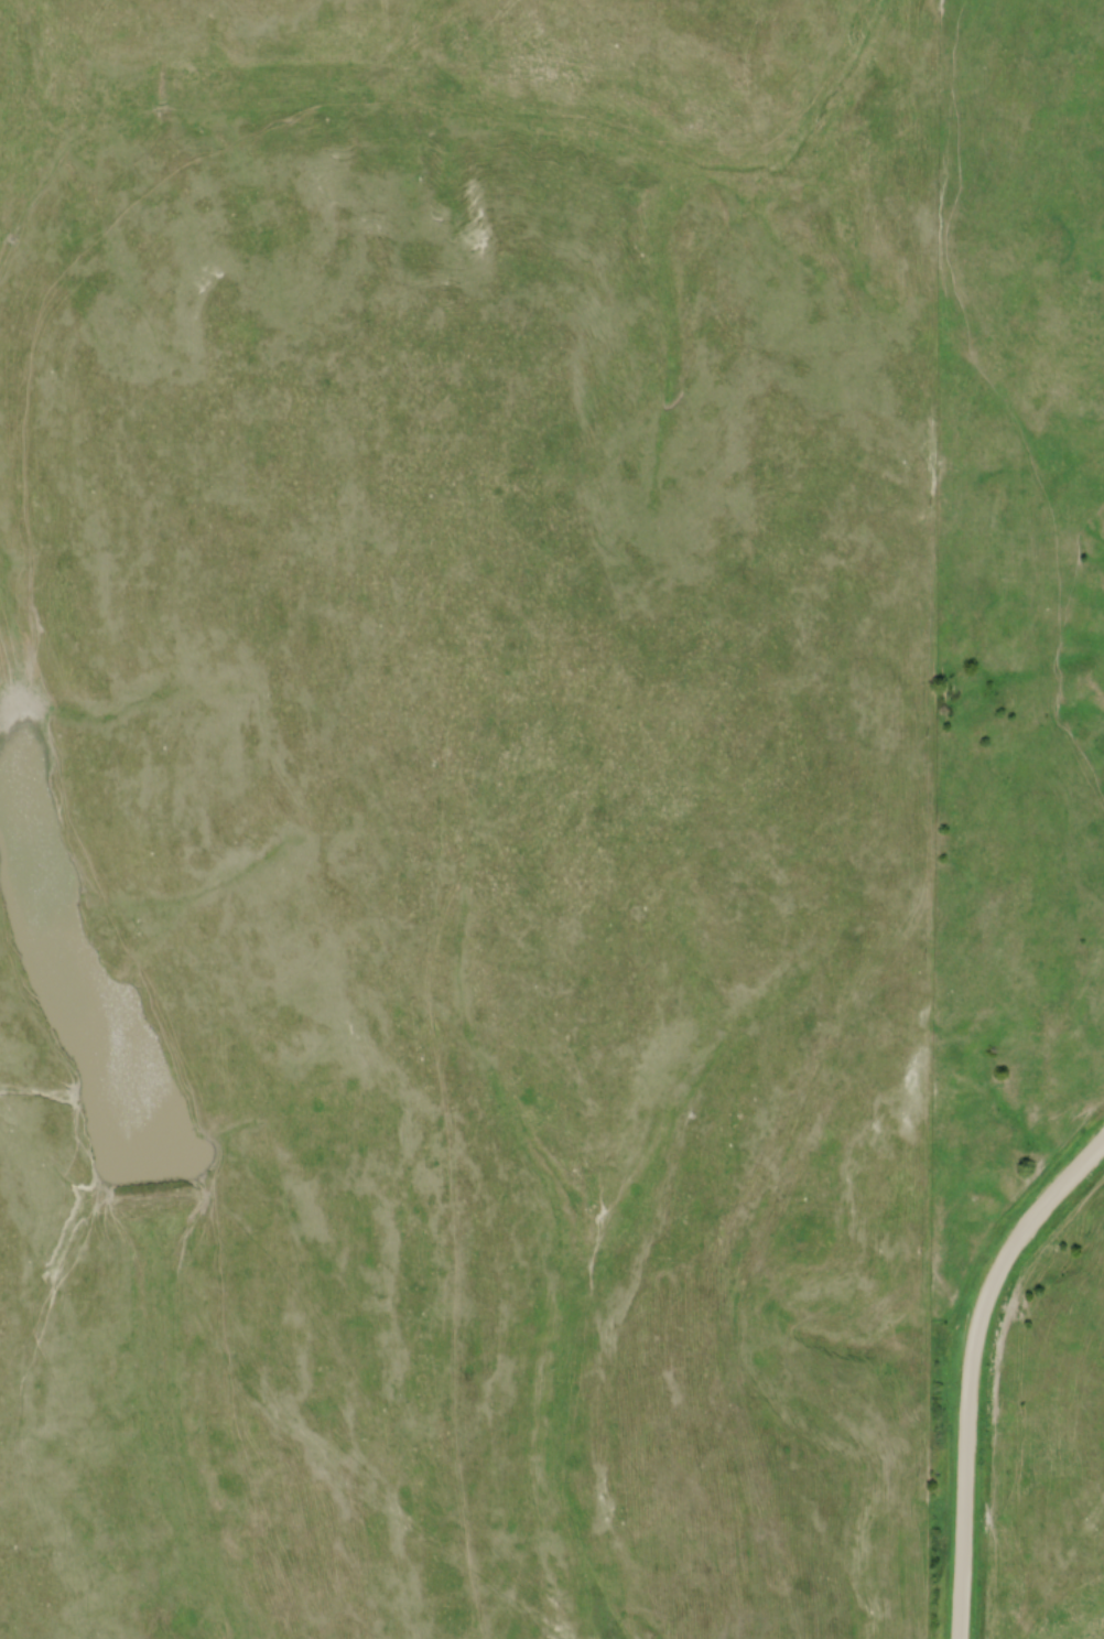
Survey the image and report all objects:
road: (973, 1370)

